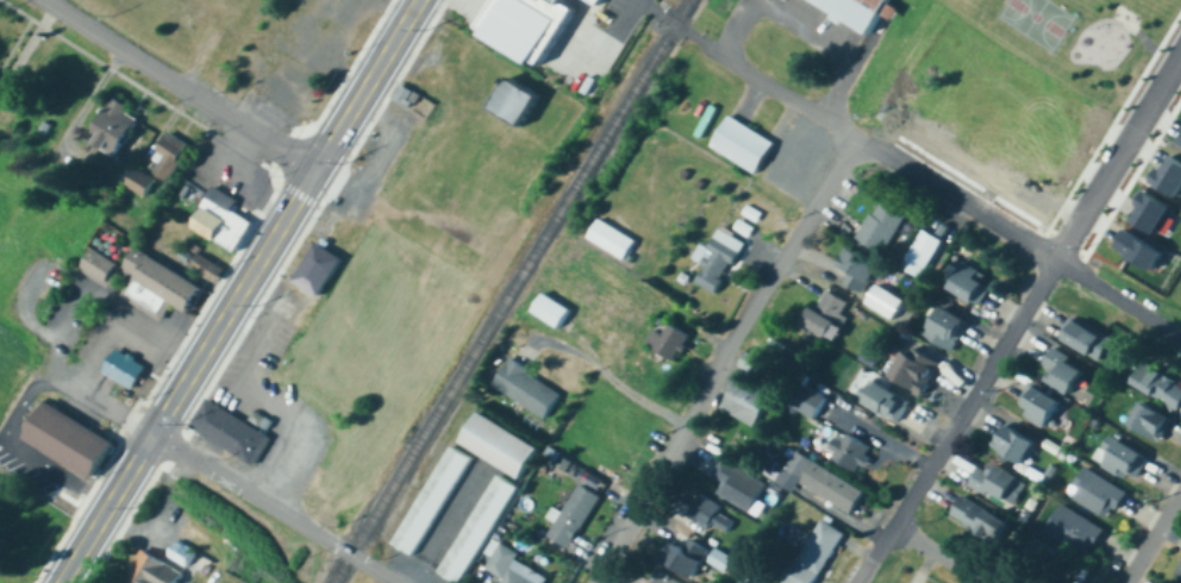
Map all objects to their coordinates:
building: (592, 1)
building: (602, 1)
building: (363, 8)
road: (625, 10)
building: (861, 12)
building: (344, 19)
building: (530, 23)
road: (800, 27)
building: (326, 52)
railway: (646, 67)
building: (0, 81)
road: (180, 84)
building: (290, 92)
building: (404, 98)
building: (515, 105)
building: (113, 127)
building: (743, 148)
building: (174, 153)
building: (1170, 174)
building: (143, 181)
road: (925, 183)
building: (1156, 209)
building: (754, 211)
building: (885, 221)
building: (223, 225)
building: (745, 225)
building: (610, 239)
building: (1145, 247)
building: (924, 251)
building: (716, 261)
building: (861, 264)
building: (100, 271)
building: (210, 271)
building: (319, 272)
building: (973, 280)
building: (162, 283)
road: (239, 291)
building: (149, 299)
building: (887, 299)
building: (549, 311)
building: (832, 312)
road: (1020, 316)
road: (121, 324)
building: (950, 324)
building: (1088, 334)
building: (673, 338)
road: (721, 358)
railway: (469, 359)
building: (920, 366)
building: (1068, 369)
building: (124, 372)
road: (607, 377)
building: (1158, 382)
road: (63, 383)
building: (526, 389)
building: (749, 389)
building: (888, 396)
building: (818, 400)
building: (1043, 402)
road: (265, 405)
building: (1156, 416)
building: (230, 435)
building: (1019, 439)
building: (69, 444)
building: (496, 445)
building: (852, 446)
building: (1126, 455)
building: (795, 468)
road: (48, 479)
building: (1002, 481)
building: (742, 483)
building: (832, 488)
building: (1101, 490)
building: (431, 501)
road: (271, 508)
building: (713, 512)
building: (573, 516)
building: (983, 516)
road: (444, 526)
building: (1079, 527)
building: (476, 529)
road: (1152, 538)
building: (817, 552)
building: (691, 553)
road: (936, 554)
building: (182, 557)
building: (723, 557)
building: (511, 568)
building: (1180, 571)
building: (154, 572)
building: (666, 578)
building: (757, 579)

